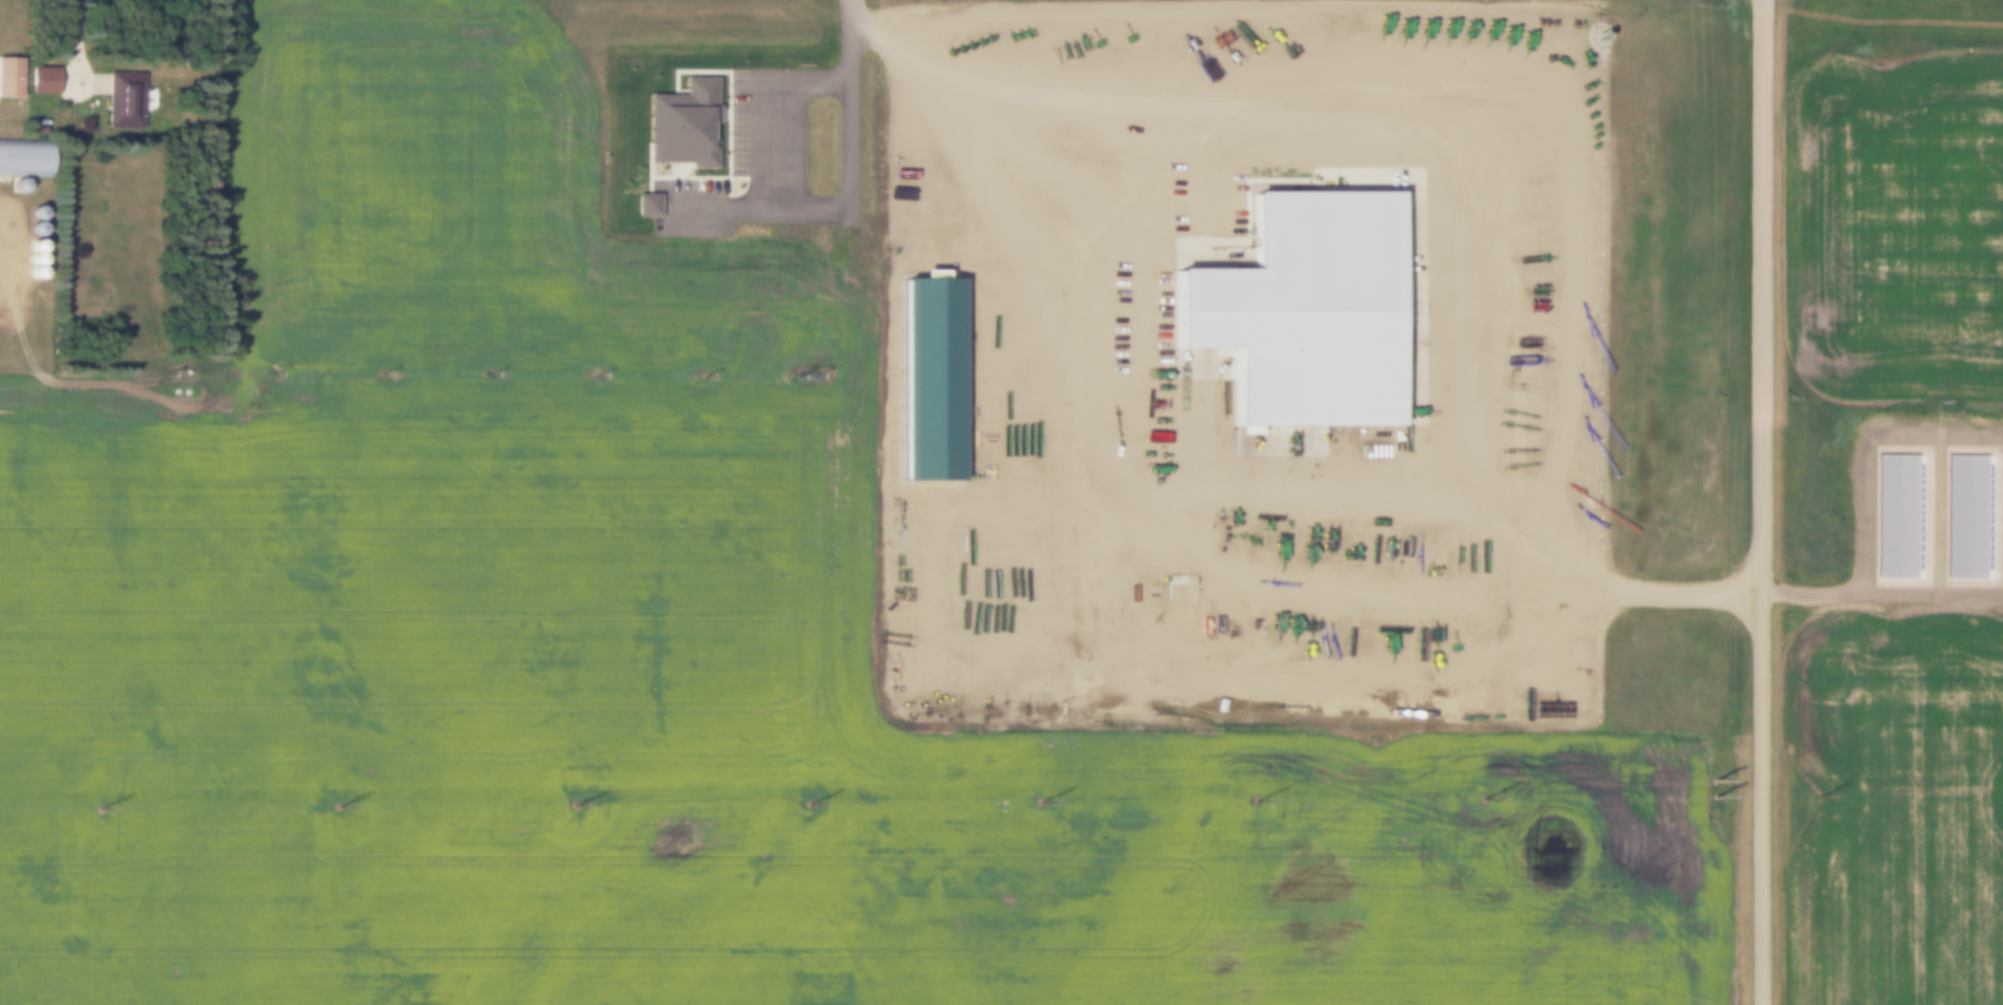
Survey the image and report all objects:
road: (1758, 0)
road: (76, 40)
building: (10, 78)
building: (41, 81)
building: (122, 100)
building: (682, 125)
building: (24, 157)
building: (17, 185)
silo: (17, 185)
building: (646, 206)
building: (32, 213)
silo: (32, 213)
building: (32, 229)
silo: (32, 229)
building: (31, 244)
silo: (31, 244)
road: (3, 273)
building: (1294, 296)
building: (923, 367)
road: (1758, 503)
building: (1899, 517)
building: (1968, 517)

